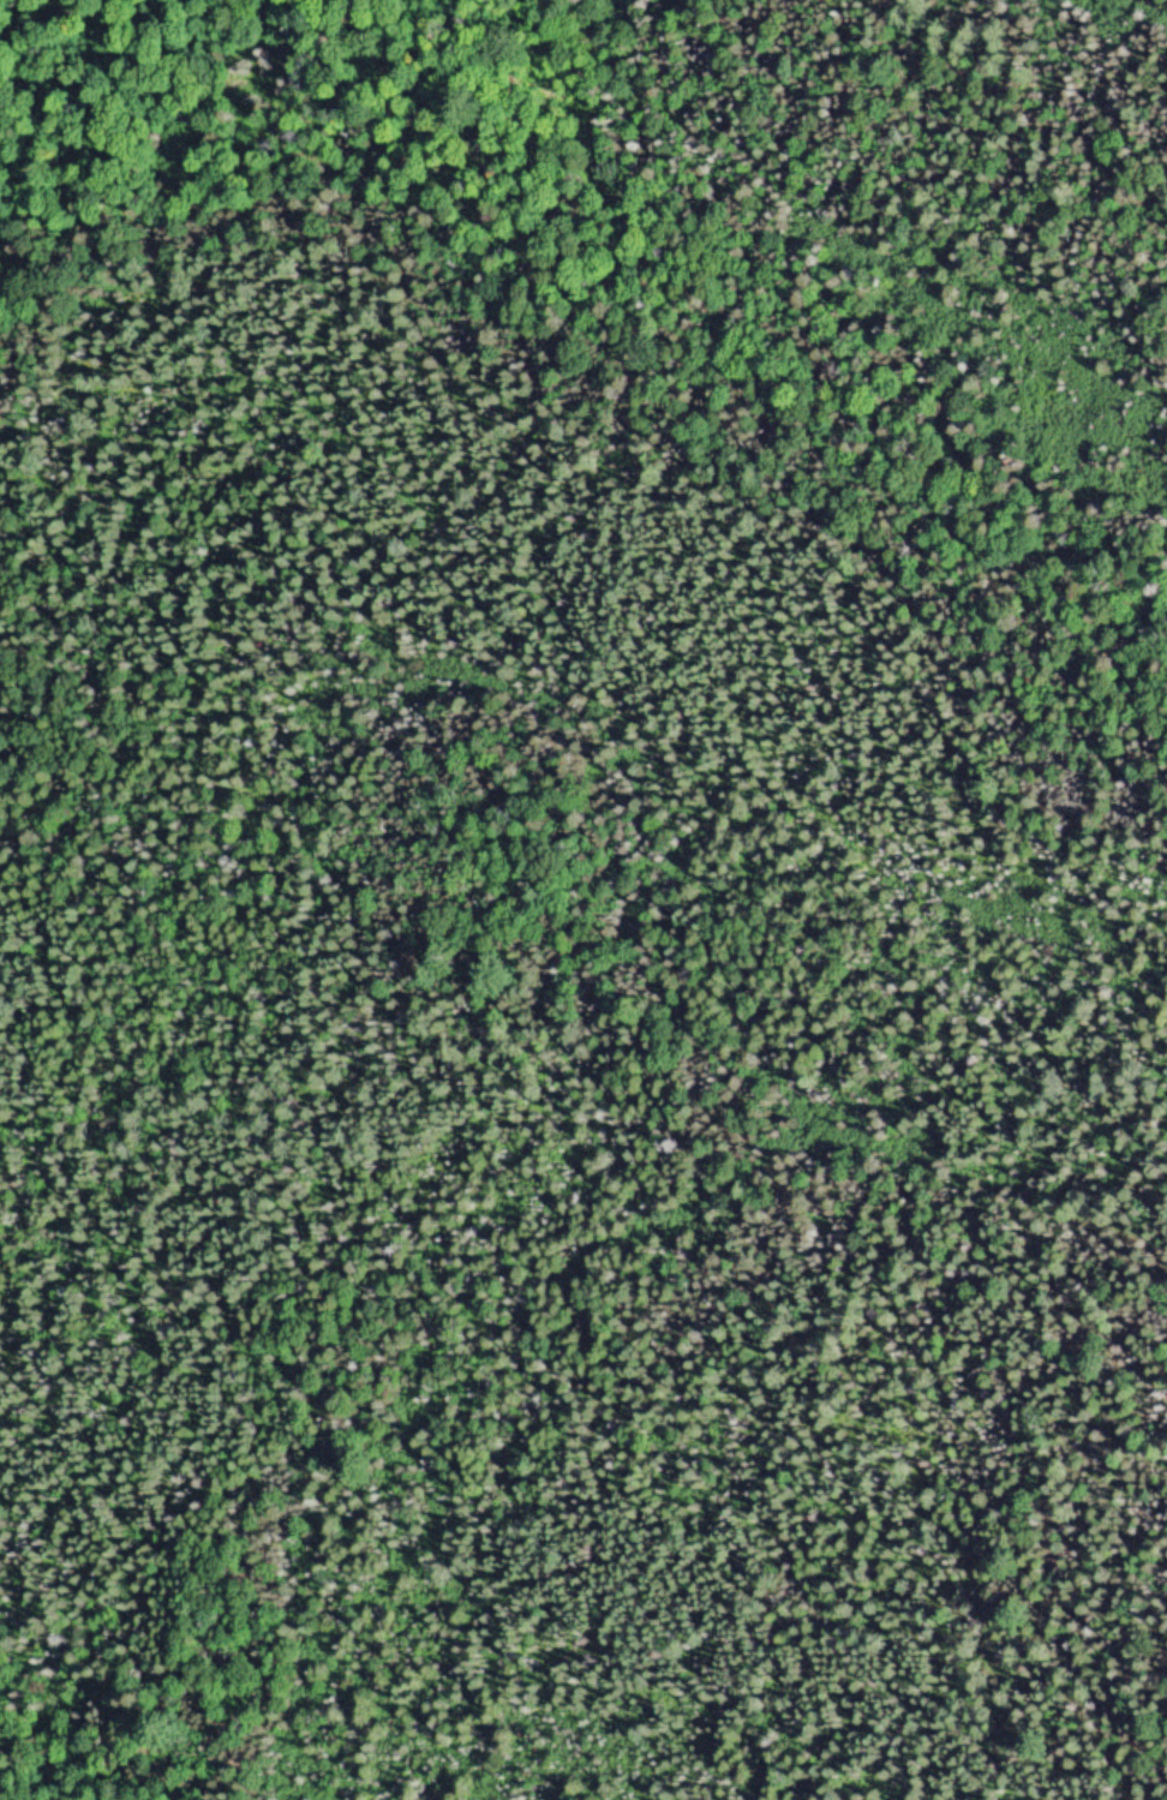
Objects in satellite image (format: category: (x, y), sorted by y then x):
river: (1150, 6)

